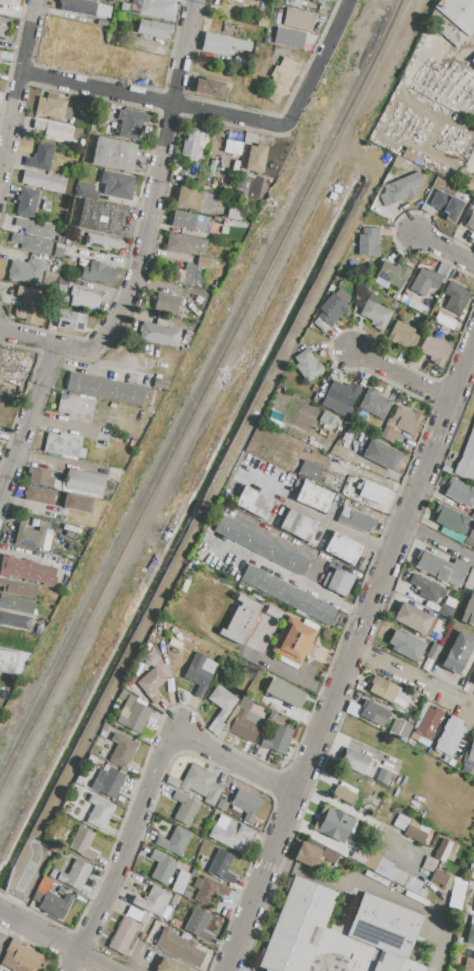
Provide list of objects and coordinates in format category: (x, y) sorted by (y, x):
building: (12, 0)
building: (230, 0)
building: (236, 0)
building: (108, 1)
building: (5, 2)
building: (319, 2)
building: (78, 7)
building: (150, 8)
building: (458, 13)
building: (298, 19)
building: (102, 23)
building: (4, 27)
building: (153, 29)
building: (288, 38)
building: (222, 44)
railway: (379, 51)
building: (0, 53)
building: (473, 61)
building: (281, 79)
building: (210, 88)
road: (17, 90)
building: (53, 107)
road: (223, 114)
building: (98, 117)
building: (131, 123)
building: (54, 131)
building: (230, 139)
building: (191, 142)
building: (114, 154)
building: (40, 157)
building: (256, 158)
building: (42, 180)
building: (243, 182)
building: (109, 186)
building: (401, 189)
road: (153, 197)
building: (195, 199)
building: (27, 202)
building: (444, 204)
building: (234, 214)
building: (101, 217)
building: (190, 221)
building: (470, 222)
building: (234, 223)
building: (33, 228)
building: (223, 230)
building: (101, 242)
building: (368, 242)
building: (32, 244)
building: (184, 244)
road: (445, 249)
building: (58, 250)
building: (204, 263)
building: (26, 271)
building: (99, 273)
building: (192, 274)
building: (393, 274)
building: (50, 279)
building: (424, 282)
building: (29, 292)
building: (456, 298)
building: (85, 299)
building: (168, 303)
building: (331, 309)
building: (375, 313)
building: (30, 314)
building: (71, 320)
building: (445, 321)
building: (160, 333)
road: (24, 336)
building: (403, 336)
building: (434, 348)
building: (307, 365)
road: (403, 375)
building: (161, 384)
building: (105, 388)
building: (342, 393)
building: (374, 403)
building: (74, 405)
road: (28, 420)
building: (406, 420)
building: (327, 421)
building: (389, 435)
building: (63, 444)
railway: (177, 444)
building: (382, 454)
building: (467, 460)
building: (309, 471)
building: (44, 478)
building: (379, 480)
building: (85, 483)
building: (372, 492)
building: (460, 493)
building: (40, 495)
building: (312, 496)
building: (253, 502)
building: (78, 503)
building: (356, 507)
building: (473, 514)
building: (450, 519)
road: (318, 520)
building: (356, 520)
building: (298, 525)
building: (32, 538)
road: (439, 541)
building: (262, 545)
building: (343, 548)
building: (433, 566)
building: (27, 570)
road: (279, 571)
building: (338, 582)
building: (18, 588)
building: (427, 588)
building: (410, 594)
building: (288, 595)
building: (16, 605)
road: (355, 609)
building: (446, 611)
building: (469, 611)
building: (413, 618)
building: (241, 620)
building: (15, 621)
building: (294, 641)
building: (406, 645)
building: (433, 651)
building: (458, 652)
road: (350, 660)
building: (7, 661)
building: (200, 673)
road: (291, 676)
road: (415, 676)
building: (473, 683)
building: (152, 685)
building: (387, 691)
building: (285, 693)
building: (245, 703)
building: (220, 708)
building: (132, 713)
building: (373, 713)
building: (428, 719)
building: (246, 724)
building: (396, 726)
building: (405, 730)
building: (450, 736)
building: (278, 739)
building: (122, 750)
building: (469, 755)
road: (236, 762)
building: (357, 762)
building: (469, 769)
building: (383, 776)
building: (108, 782)
building: (198, 783)
building: (344, 792)
building: (245, 802)
building: (371, 804)
building: (221, 805)
building: (184, 808)
building: (99, 812)
road: (369, 822)
building: (402, 822)
building: (333, 824)
building: (416, 832)
building: (230, 834)
building: (81, 841)
building: (175, 841)
road: (125, 849)
building: (443, 850)
building: (329, 855)
building: (360, 855)
building: (308, 856)
building: (373, 859)
building: (429, 864)
building: (221, 865)
building: (162, 867)
building: (385, 870)
building: (77, 875)
building: (439, 877)
building: (409, 884)
road: (381, 891)
building: (210, 892)
building: (457, 894)
building: (153, 901)
building: (55, 905)
road: (10, 916)
building: (198, 925)
road: (333, 925)
building: (298, 927)
building: (386, 932)
building: (471, 933)
road: (50, 936)
building: (125, 937)
building: (179, 947)
building: (20, 957)
road: (97, 961)
building: (469, 965)
building: (169, 966)

